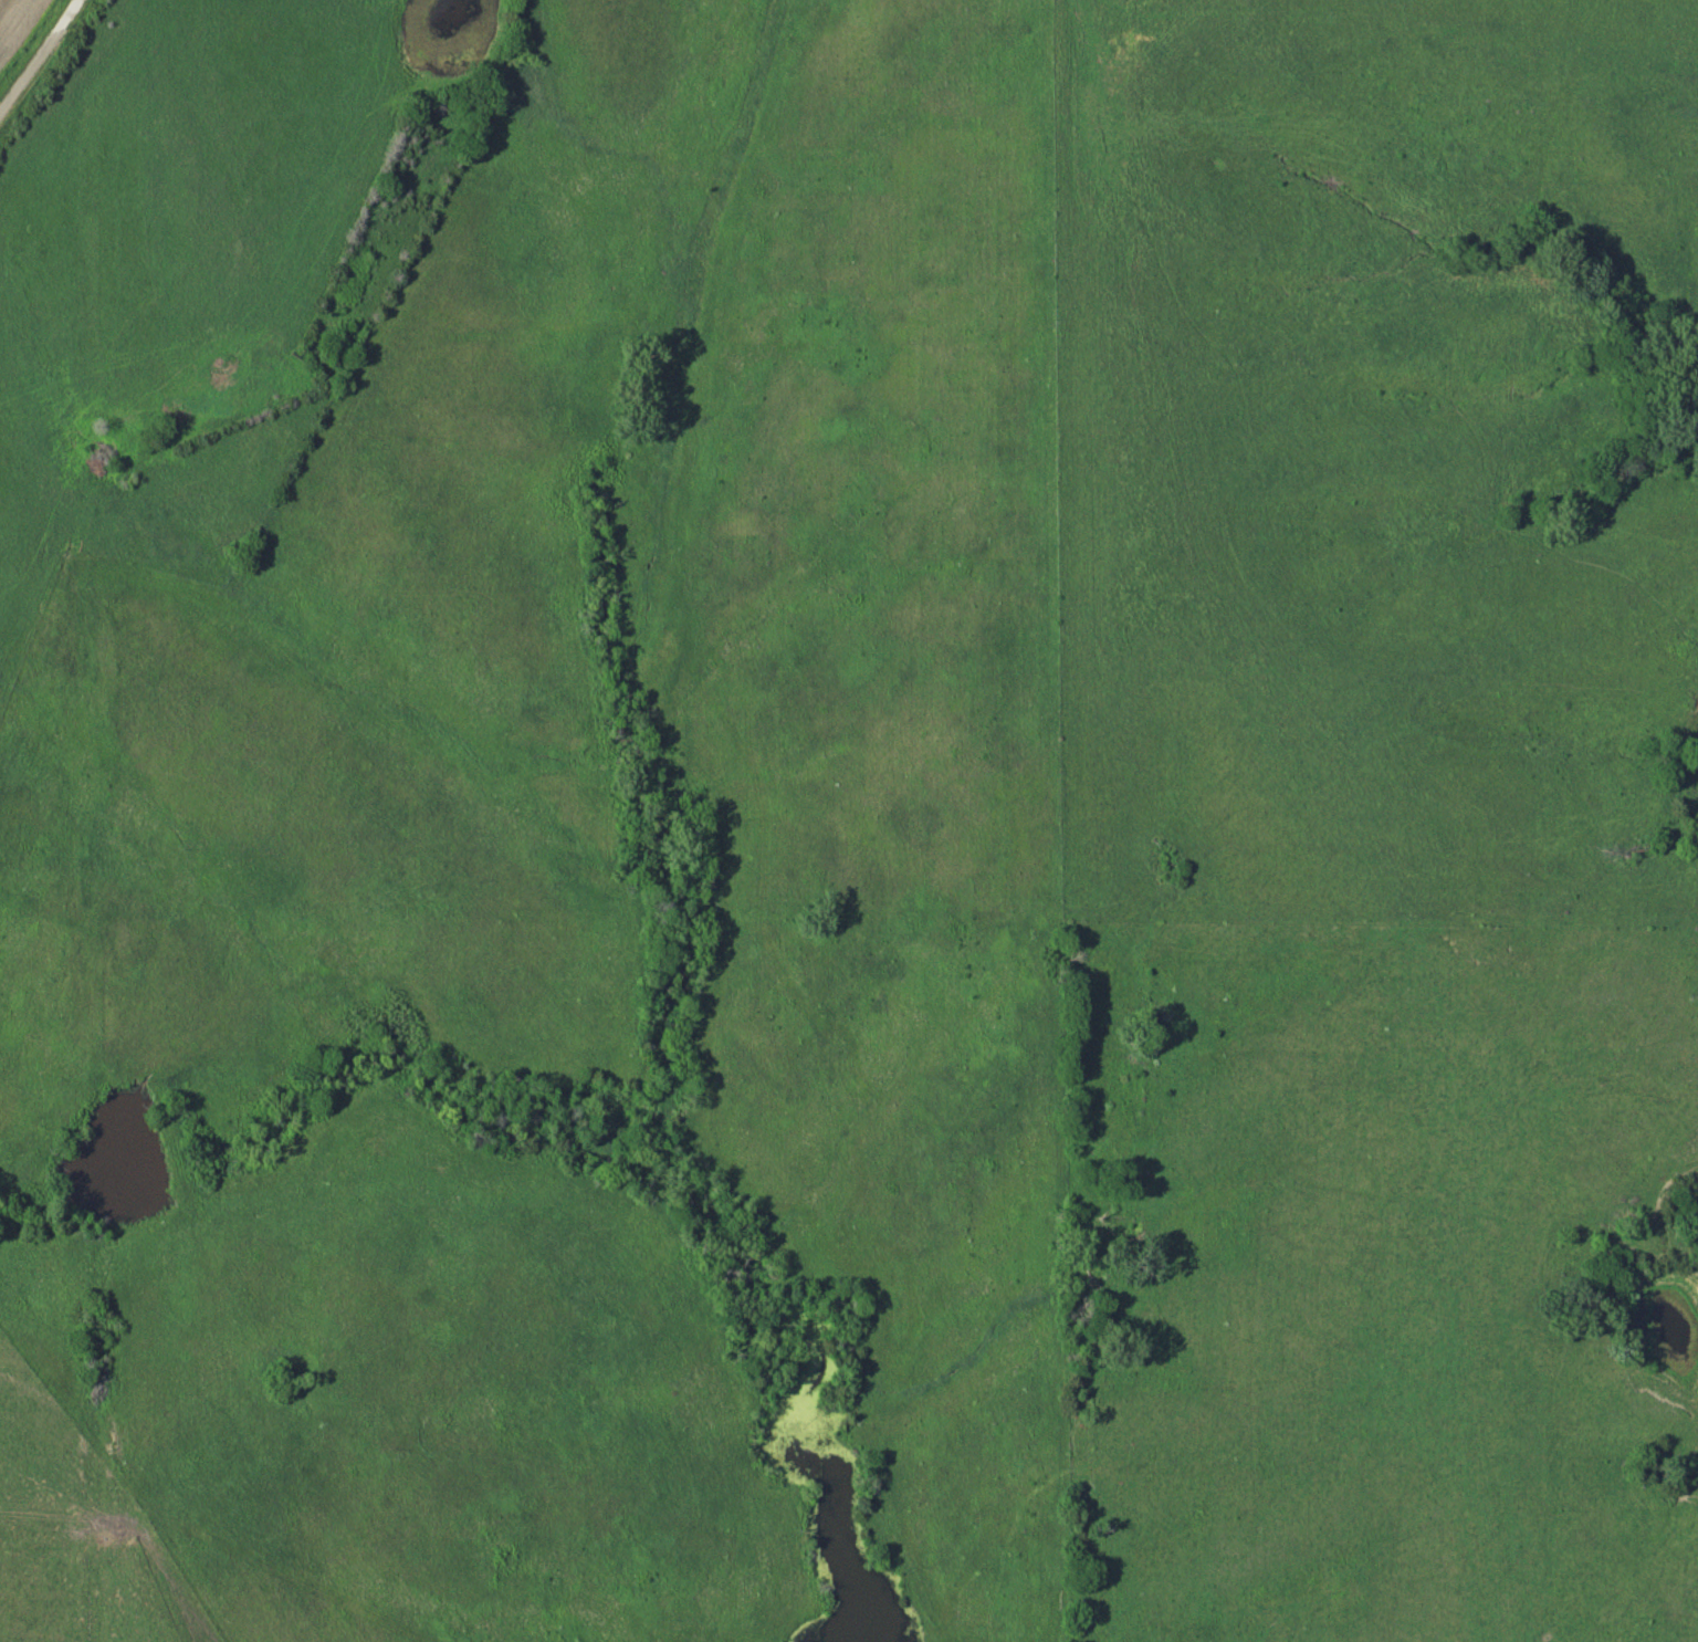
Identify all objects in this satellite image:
road: (40, 59)

